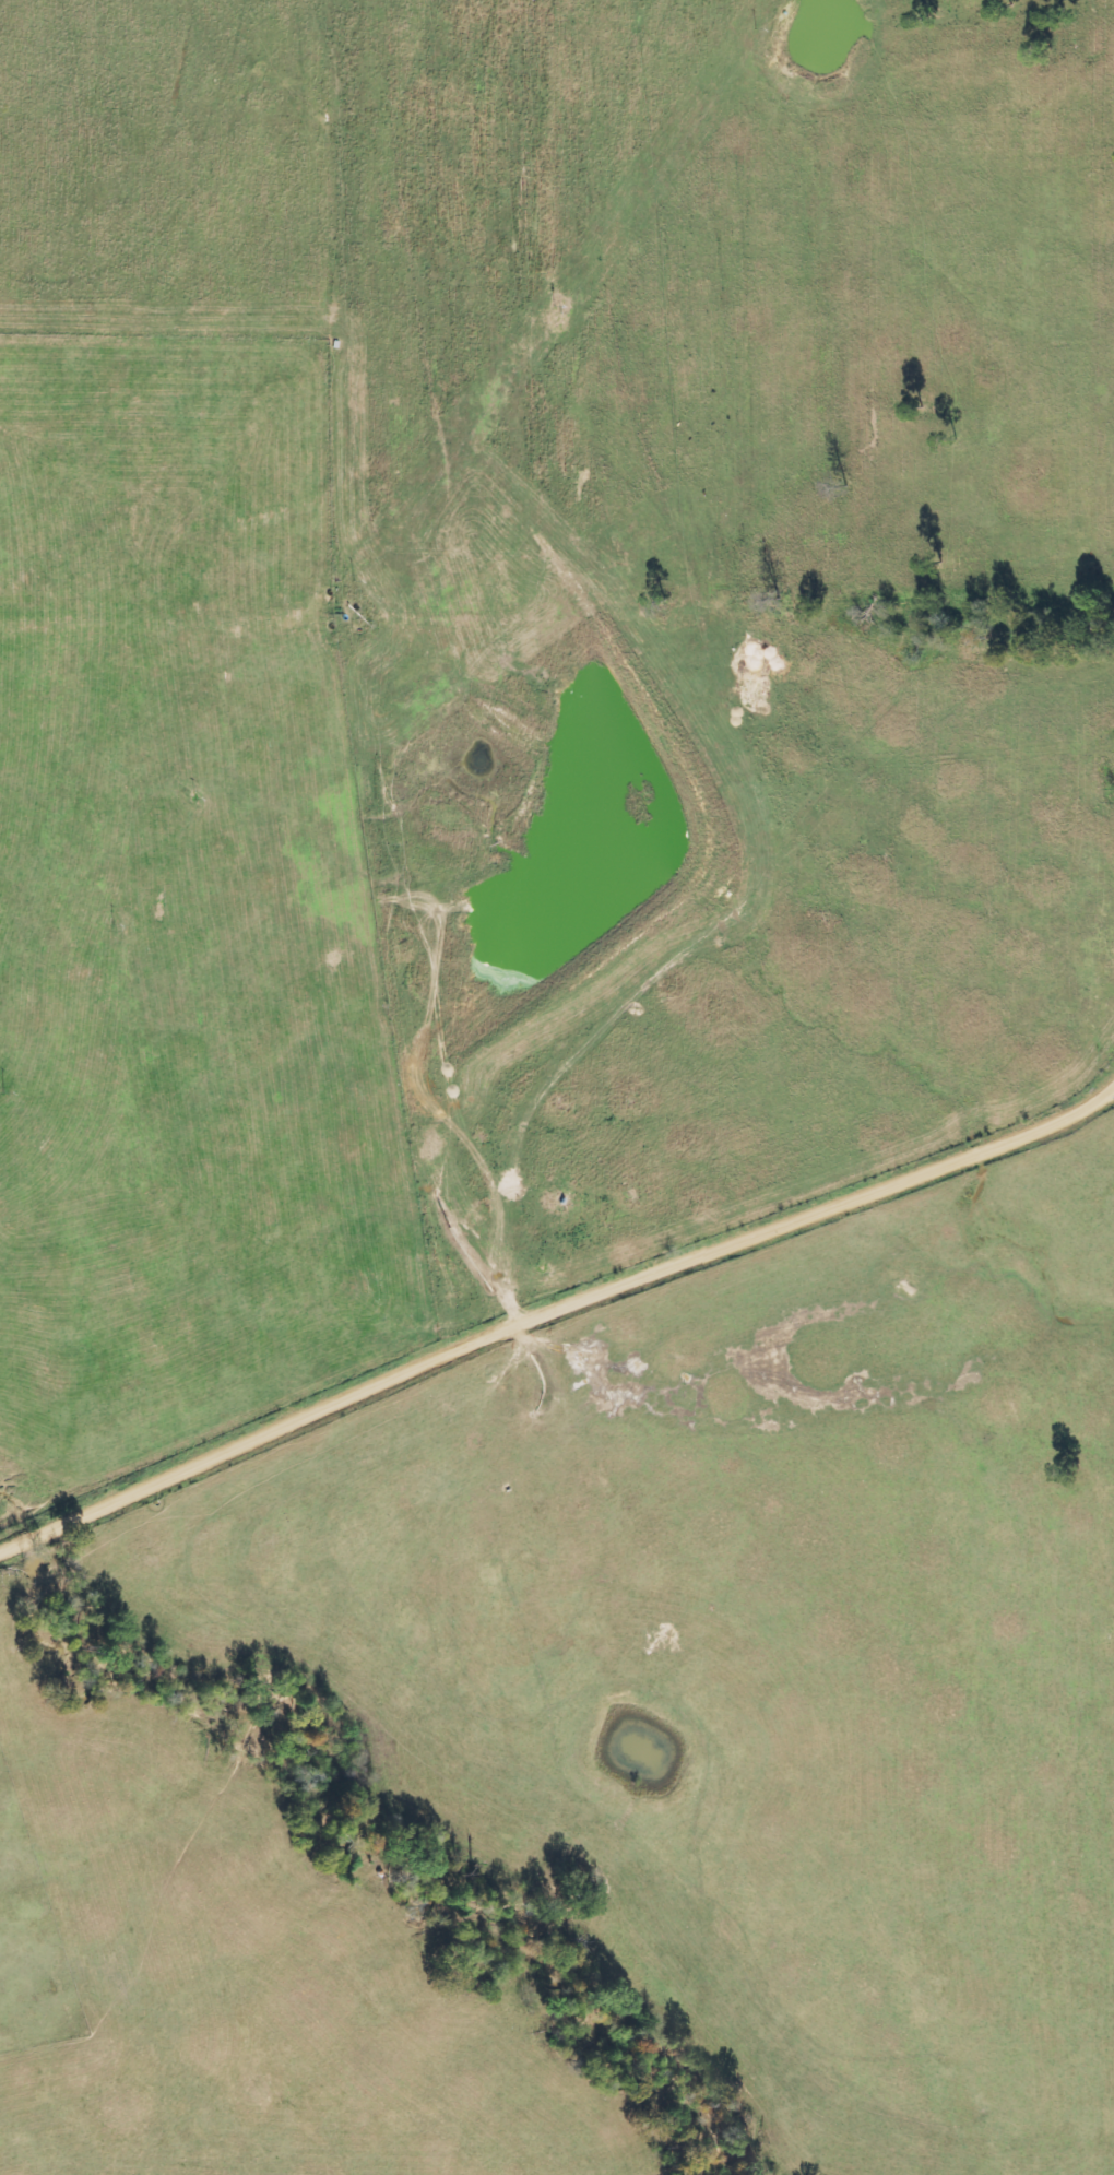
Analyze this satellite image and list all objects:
road: (1075, 1056)
road: (1075, 1114)
road: (512, 1331)

